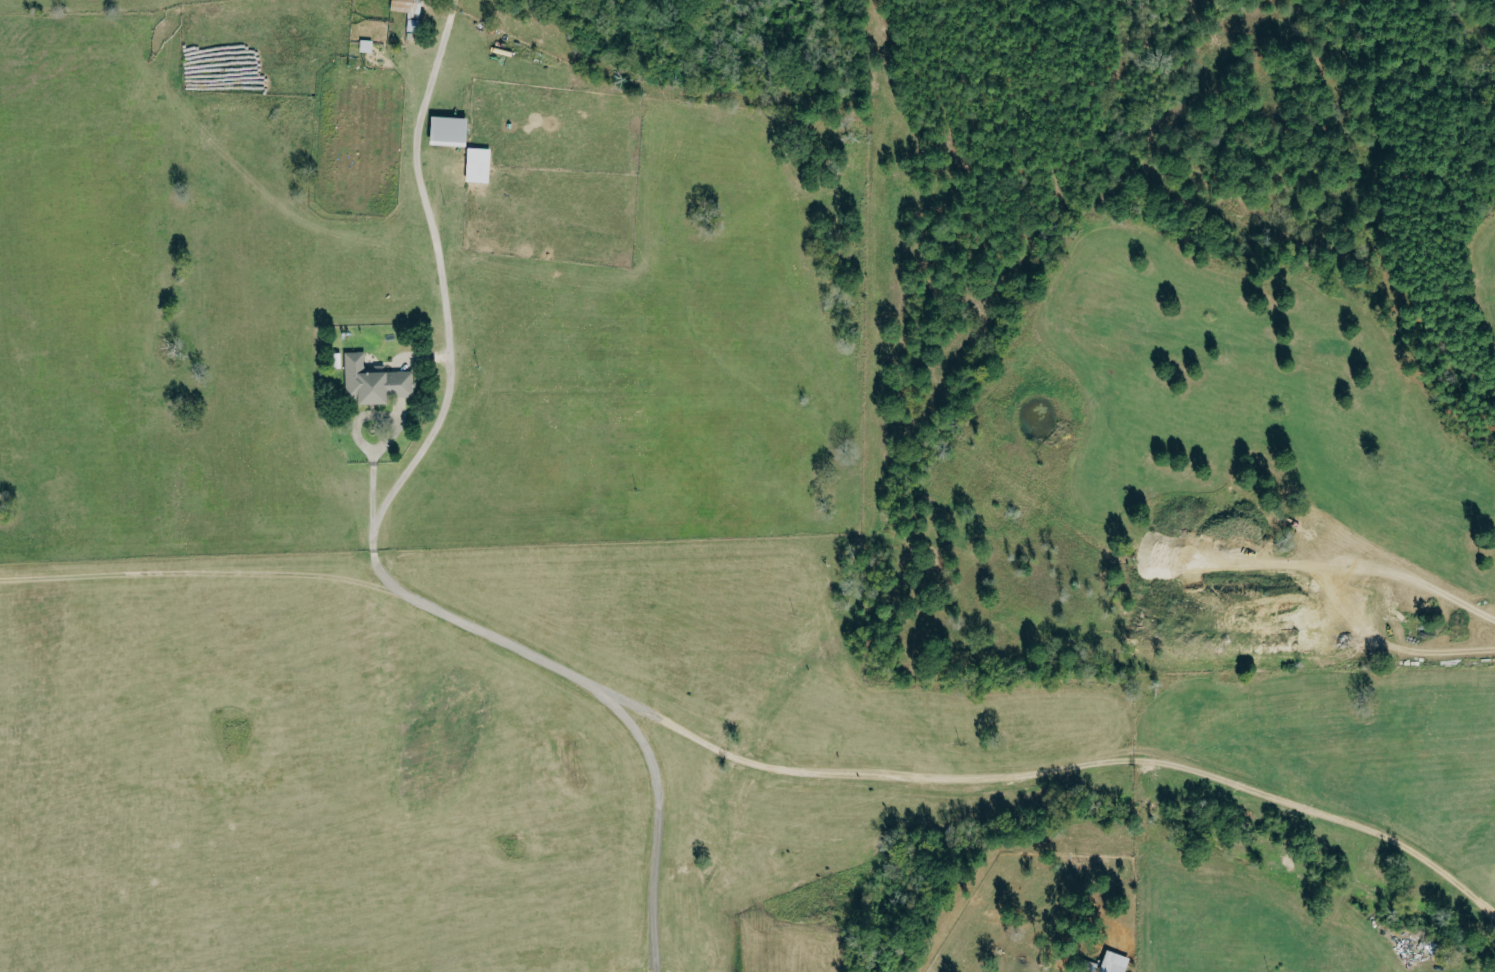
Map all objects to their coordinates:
building: (410, 13)
building: (449, 132)
building: (479, 165)
road: (440, 288)
building: (375, 382)
road: (926, 783)
road: (655, 816)
building: (1115, 962)

